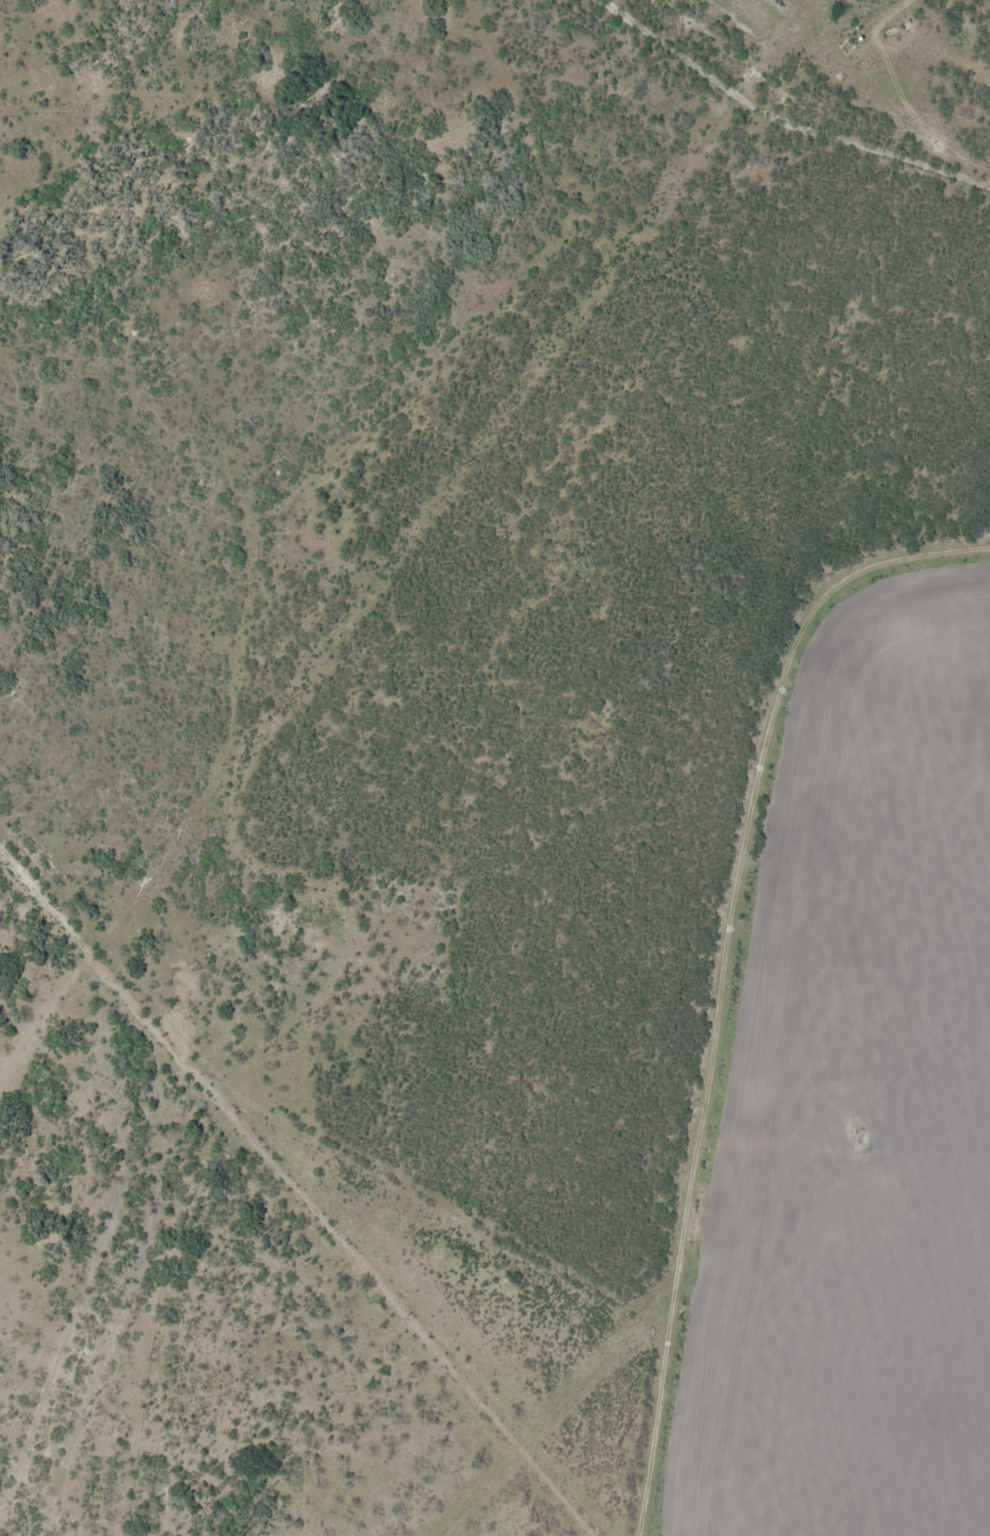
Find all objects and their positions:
road: (219, 70)
road: (719, 969)
road: (313, 1175)

